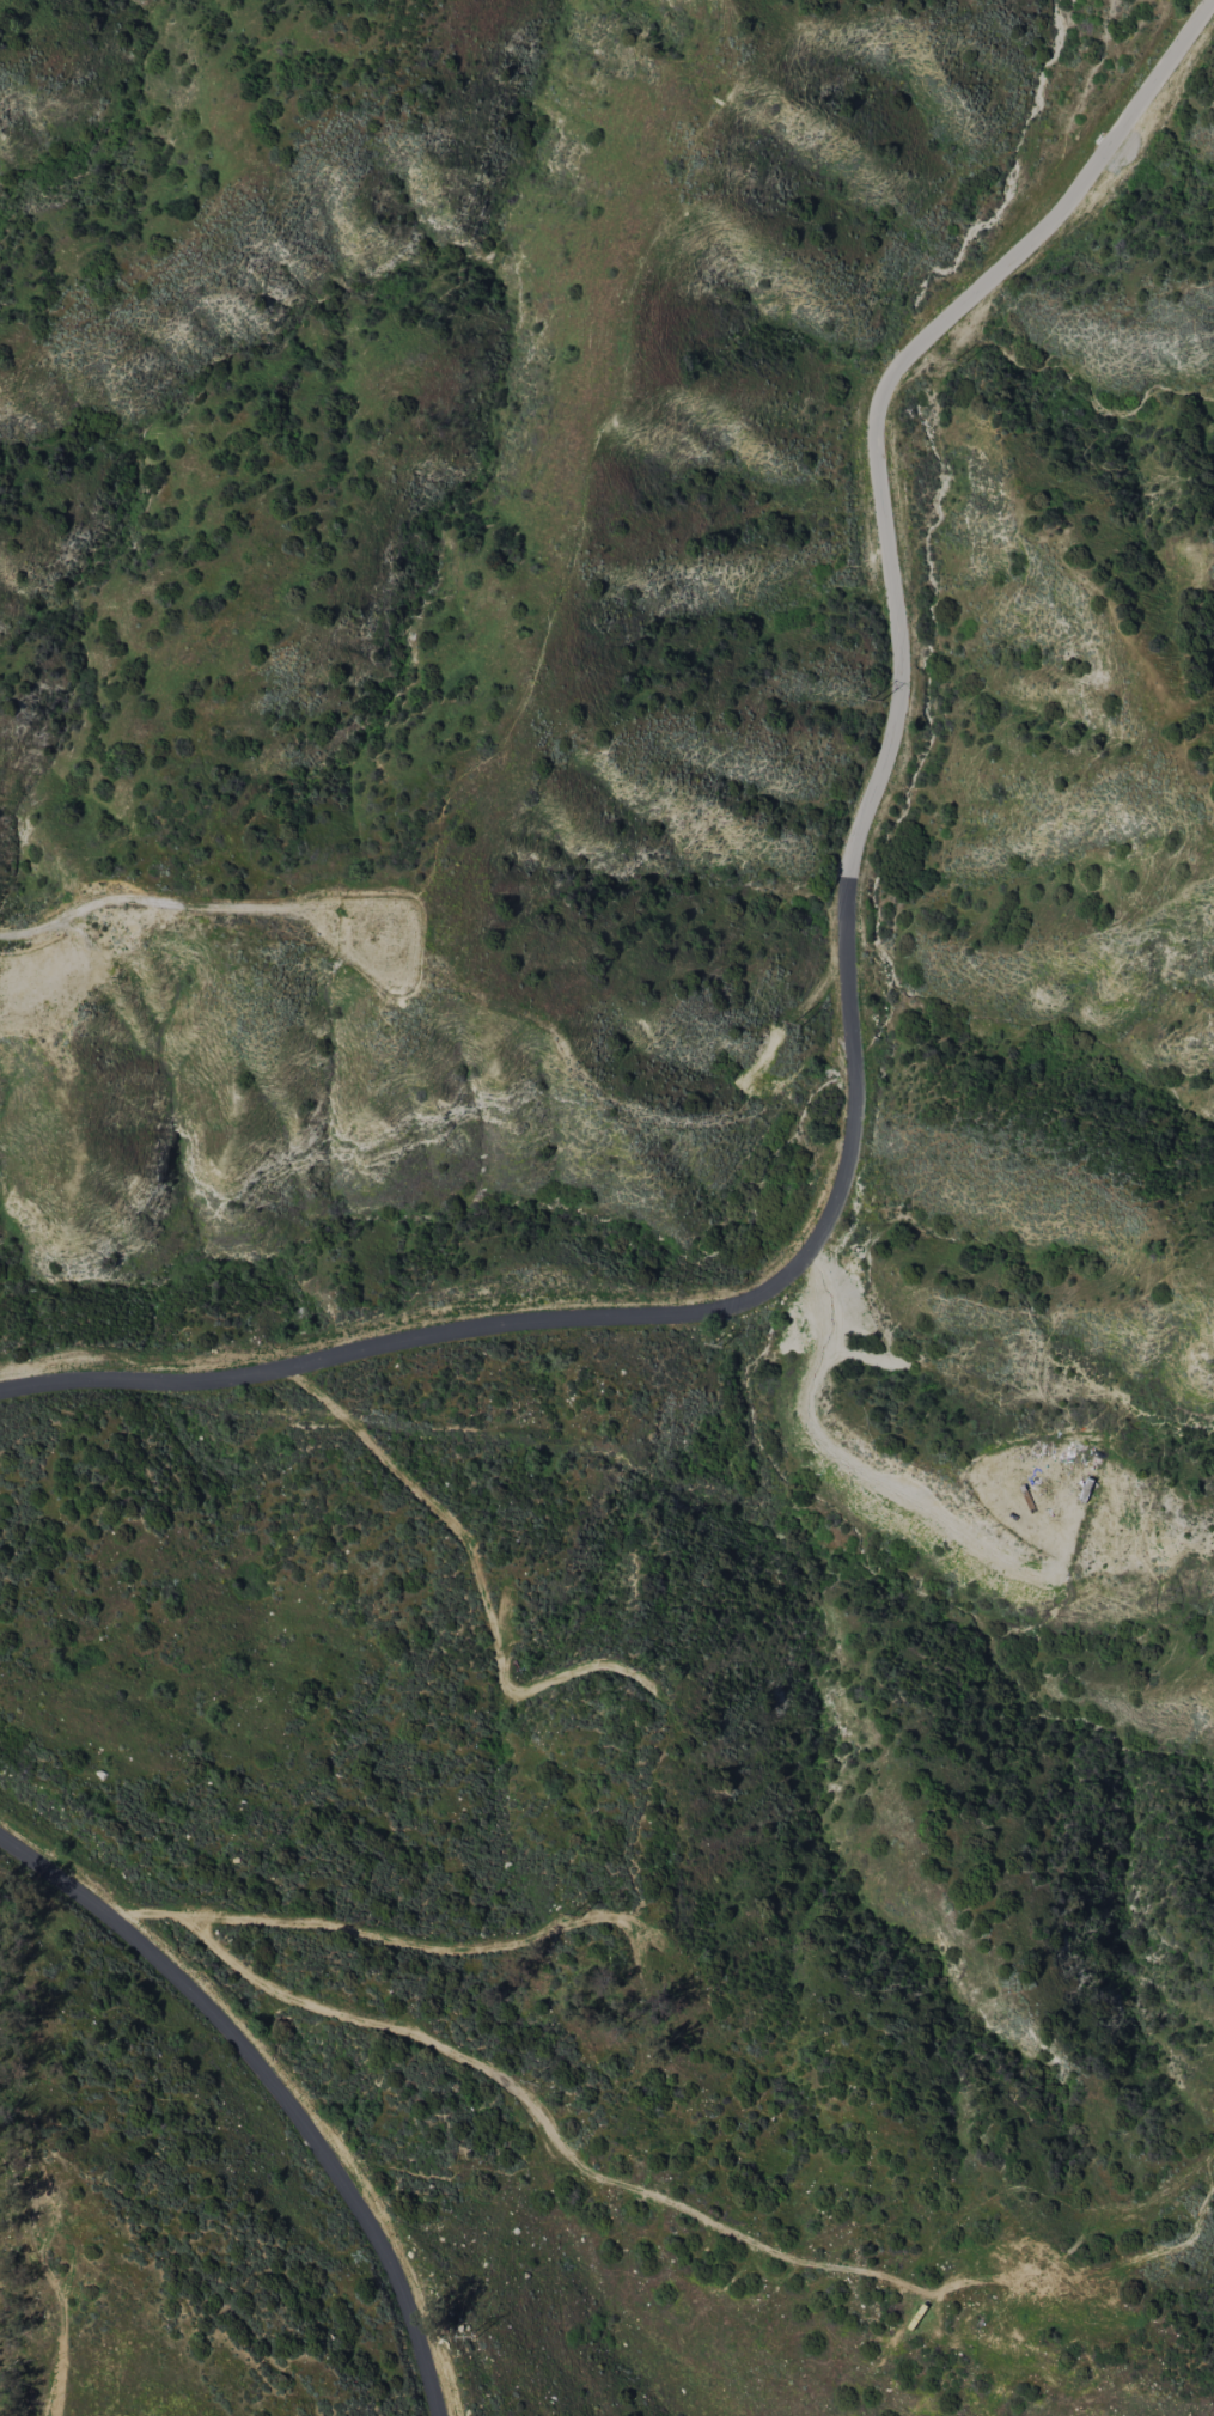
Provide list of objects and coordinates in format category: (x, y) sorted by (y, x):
road: (849, 982)
road: (868, 1475)
road: (439, 1945)
road: (353, 2012)
road: (274, 2086)
road: (901, 2284)

